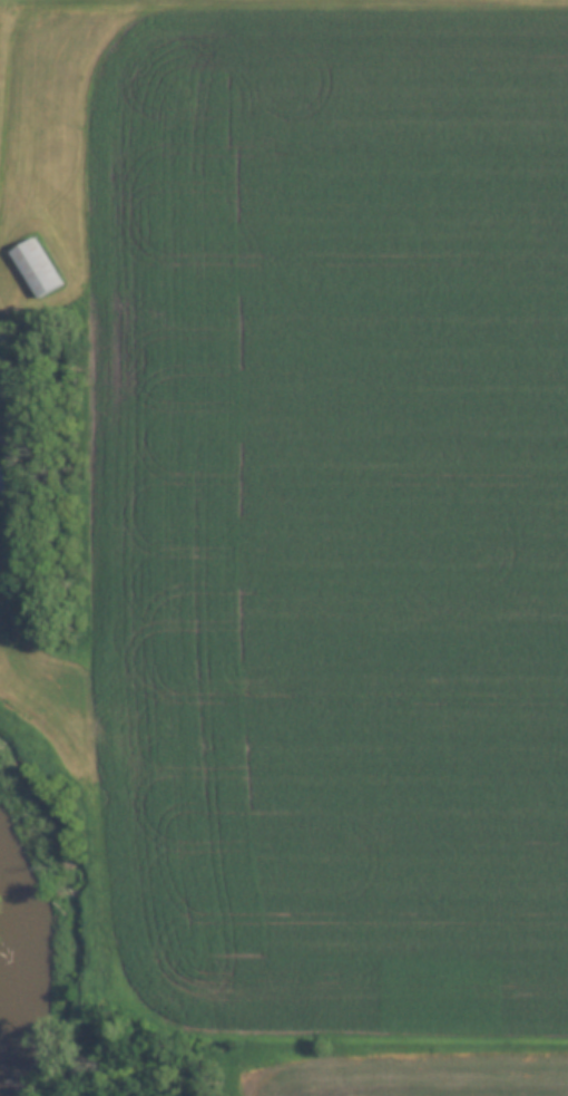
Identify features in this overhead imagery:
building: (32, 269)
building: (3, 481)
river: (27, 927)

